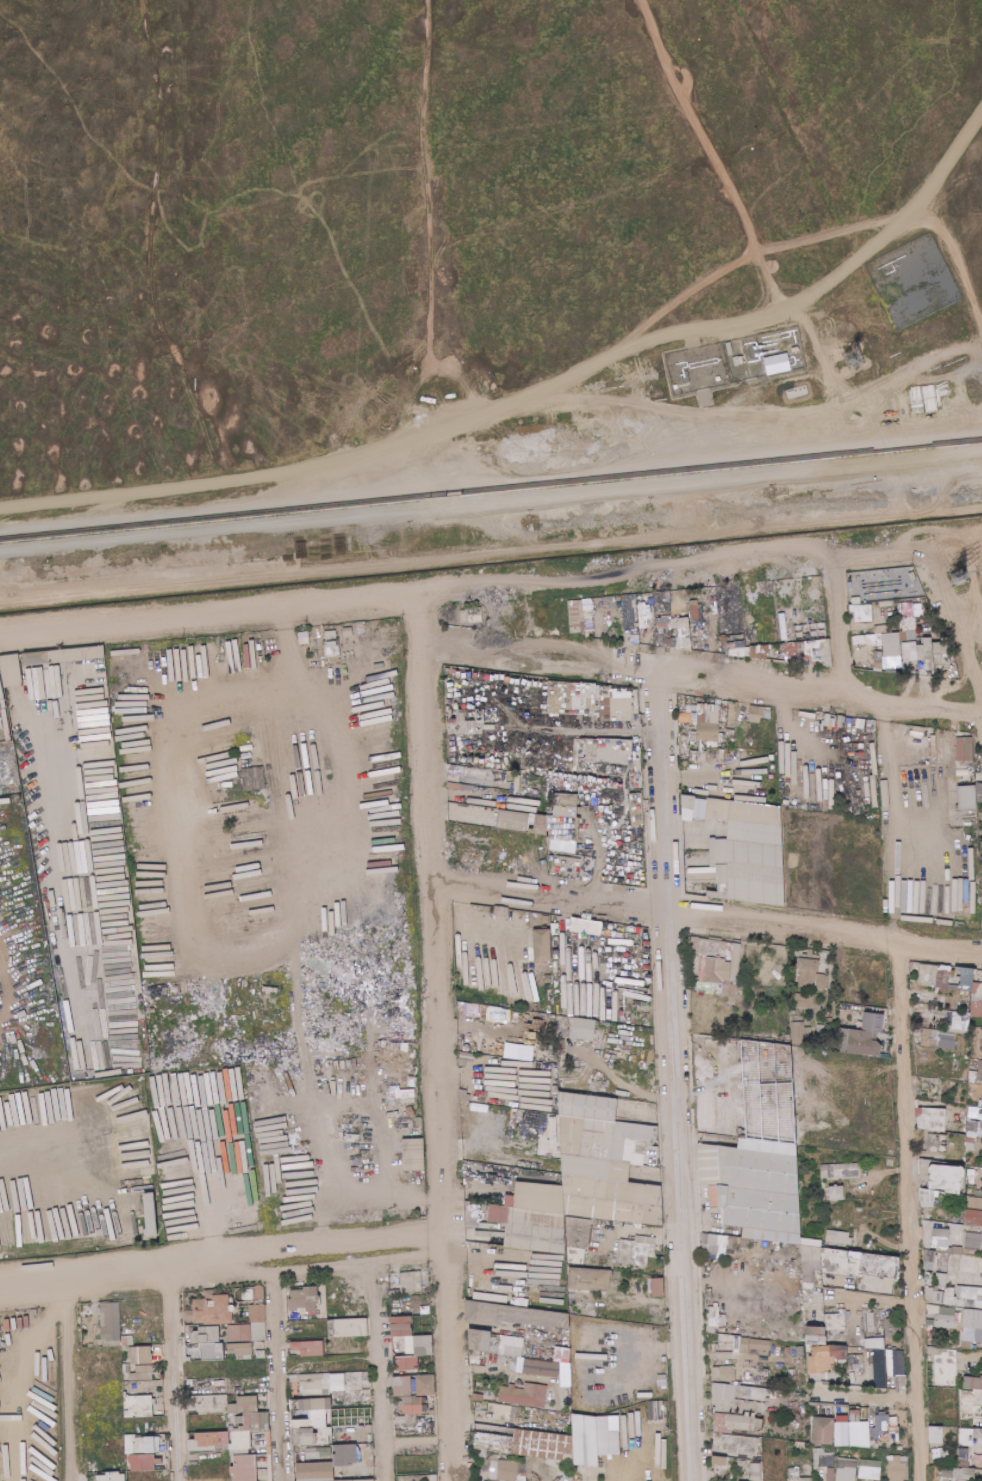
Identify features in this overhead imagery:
road: (713, 156)
road: (436, 227)
road: (748, 257)
building: (913, 279)
road: (789, 309)
road: (494, 421)
road: (707, 455)
road: (936, 465)
road: (491, 499)
road: (217, 507)
road: (440, 519)
road: (949, 544)
road: (490, 552)
road: (662, 562)
power tower: (960, 574)
building: (913, 575)
building: (734, 585)
building: (849, 587)
building: (667, 595)
building: (607, 599)
building: (856, 600)
building: (865, 601)
building: (901, 601)
building: (767, 602)
building: (719, 603)
building: (888, 603)
building: (729, 604)
building: (587, 605)
building: (606, 606)
road: (226, 607)
building: (552, 607)
building: (908, 608)
building: (648, 609)
building: (630, 611)
building: (663, 611)
building: (694, 611)
building: (732, 611)
building: (862, 612)
building: (475, 614)
building: (464, 615)
building: (576, 615)
building: (853, 616)
building: (528, 618)
building: (588, 621)
building: (663, 622)
building: (680, 622)
road: (949, 622)
building: (670, 623)
road: (834, 623)
building: (908, 623)
building: (479, 624)
building: (697, 625)
building: (895, 628)
building: (883, 629)
road: (23, 630)
building: (348, 632)
building: (642, 632)
building: (684, 632)
building: (583, 633)
building: (935, 633)
building: (587, 634)
building: (923, 634)
building: (331, 635)
building: (908, 635)
building: (303, 636)
building: (628, 636)
building: (208, 637)
building: (649, 638)
building: (873, 638)
building: (918, 638)
building: (922, 640)
building: (668, 642)
building: (673, 642)
building: (332, 643)
building: (683, 643)
building: (694, 647)
building: (940, 647)
building: (898, 649)
building: (747, 651)
building: (817, 651)
building: (909, 651)
building: (926, 653)
building: (59, 655)
building: (878, 659)
building: (942, 659)
building: (906, 666)
building: (10, 669)
building: (885, 669)
building: (925, 669)
building: (891, 670)
building: (918, 672)
building: (939, 673)
road: (698, 678)
building: (680, 699)
building: (689, 703)
building: (622, 704)
building: (726, 711)
building: (757, 712)
building: (399, 714)
building: (768, 714)
building: (710, 717)
building: (694, 721)
road: (789, 724)
building: (923, 730)
building: (708, 731)
road: (313, 733)
road: (419, 733)
building: (964, 734)
building: (969, 734)
building: (688, 735)
building: (941, 736)
building: (700, 743)
building: (927, 746)
building: (701, 748)
building: (964, 748)
building: (931, 749)
building: (690, 750)
building: (768, 751)
building: (768, 754)
building: (701, 756)
building: (684, 762)
building: (927, 762)
building: (769, 772)
road: (890, 772)
building: (936, 773)
road: (704, 777)
building: (253, 778)
building: (791, 779)
building: (979, 793)
building: (815, 797)
building: (967, 797)
building: (565, 805)
building: (688, 806)
building: (718, 808)
building: (700, 809)
building: (972, 811)
building: (512, 820)
building: (754, 823)
building: (883, 824)
building: (539, 825)
building: (557, 826)
building: (965, 831)
building: (980, 831)
building: (548, 835)
building: (981, 844)
building: (884, 849)
building: (718, 851)
building: (981, 856)
building: (566, 863)
building: (574, 865)
building: (755, 872)
building: (722, 873)
building: (887, 882)
building: (719, 891)
building: (886, 898)
building: (501, 910)
road: (706, 911)
building: (536, 915)
building: (545, 919)
building: (914, 920)
road: (471, 927)
building: (715, 938)
building: (554, 941)
road: (570, 942)
building: (543, 944)
building: (694, 945)
building: (711, 948)
building: (806, 953)
building: (833, 953)
building: (728, 962)
building: (735, 963)
building: (808, 964)
building: (916, 965)
building: (948, 968)
building: (702, 969)
building: (715, 969)
building: (975, 971)
building: (818, 972)
building: (951, 972)
building: (927, 974)
building: (959, 974)
building: (978, 976)
building: (548, 978)
building: (942, 978)
building: (954, 978)
building: (966, 978)
building: (812, 979)
building: (731, 982)
building: (957, 983)
building: (953, 987)
building: (270, 989)
building: (733, 989)
building: (976, 991)
building: (744, 992)
building: (732, 1000)
building: (803, 1000)
building: (460, 1005)
building: (471, 1008)
building: (976, 1008)
building: (489, 1011)
building: (506, 1014)
building: (543, 1015)
building: (795, 1018)
building: (830, 1020)
building: (954, 1020)
building: (872, 1022)
building: (561, 1023)
building: (859, 1025)
building: (584, 1028)
building: (800, 1032)
building: (836, 1034)
building: (848, 1035)
building: (844, 1038)
building: (939, 1039)
building: (788, 1040)
building: (863, 1043)
building: (152, 1046)
building: (563, 1050)
building: (545, 1071)
building: (979, 1072)
road: (673, 1077)
building: (973, 1077)
road: (631, 1084)
building: (408, 1093)
building: (981, 1103)
building: (587, 1106)
building: (963, 1113)
building: (975, 1113)
road: (381, 1119)
building: (935, 1119)
building: (419, 1121)
building: (571, 1134)
building: (612, 1137)
building: (362, 1143)
building: (413, 1154)
road: (321, 1170)
building: (839, 1171)
building: (149, 1172)
building: (306, 1173)
road: (446, 1180)
building: (754, 1187)
building: (171, 1188)
building: (836, 1193)
building: (928, 1198)
building: (166, 1199)
building: (975, 1203)
road: (206, 1206)
road: (907, 1207)
building: (149, 1215)
building: (976, 1218)
building: (838, 1237)
building: (940, 1238)
building: (973, 1241)
building: (731, 1242)
building: (715, 1243)
building: (636, 1250)
building: (929, 1260)
building: (873, 1264)
building: (588, 1280)
building: (411, 1281)
building: (657, 1287)
building: (934, 1296)
building: (966, 1297)
building: (303, 1300)
building: (211, 1309)
building: (513, 1316)
building: (943, 1316)
building: (110, 1322)
building: (259, 1322)
building: (973, 1324)
building: (349, 1328)
building: (238, 1333)
building: (0, 1336)
building: (127, 1341)
building: (478, 1341)
building: (208, 1343)
building: (409, 1344)
building: (511, 1346)
building: (755, 1346)
building: (306, 1348)
building: (241, 1351)
building: (140, 1355)
building: (562, 1355)
building: (787, 1355)
building: (826, 1358)
building: (856, 1369)
building: (879, 1369)
building: (898, 1369)
building: (143, 1373)
building: (724, 1373)
building: (948, 1375)
building: (835, 1377)
building: (333, 1383)
building: (724, 1392)
building: (414, 1393)
building: (747, 1394)
building: (972, 1394)
building: (524, 1395)
building: (656, 1410)
building: (499, 1412)
building: (312, 1420)
building: (405, 1420)
building: (736, 1423)
building: (843, 1424)
building: (883, 1429)
building: (822, 1431)
building: (937, 1435)
building: (295, 1436)
building: (207, 1441)
building: (561, 1443)
building: (967, 1443)
building: (139, 1445)
building: (741, 1445)
building: (312, 1454)
building: (824, 1458)
building: (962, 1458)
building: (719, 1461)
building: (141, 1463)
building: (244, 1468)
building: (262, 1468)
building: (846, 1469)
building: (870, 1469)
building: (898, 1469)
building: (508, 1470)
building: (315, 1472)
building: (755, 1473)
building: (831, 1474)
building: (796, 1475)
building: (957, 1475)
building: (433, 1477)

